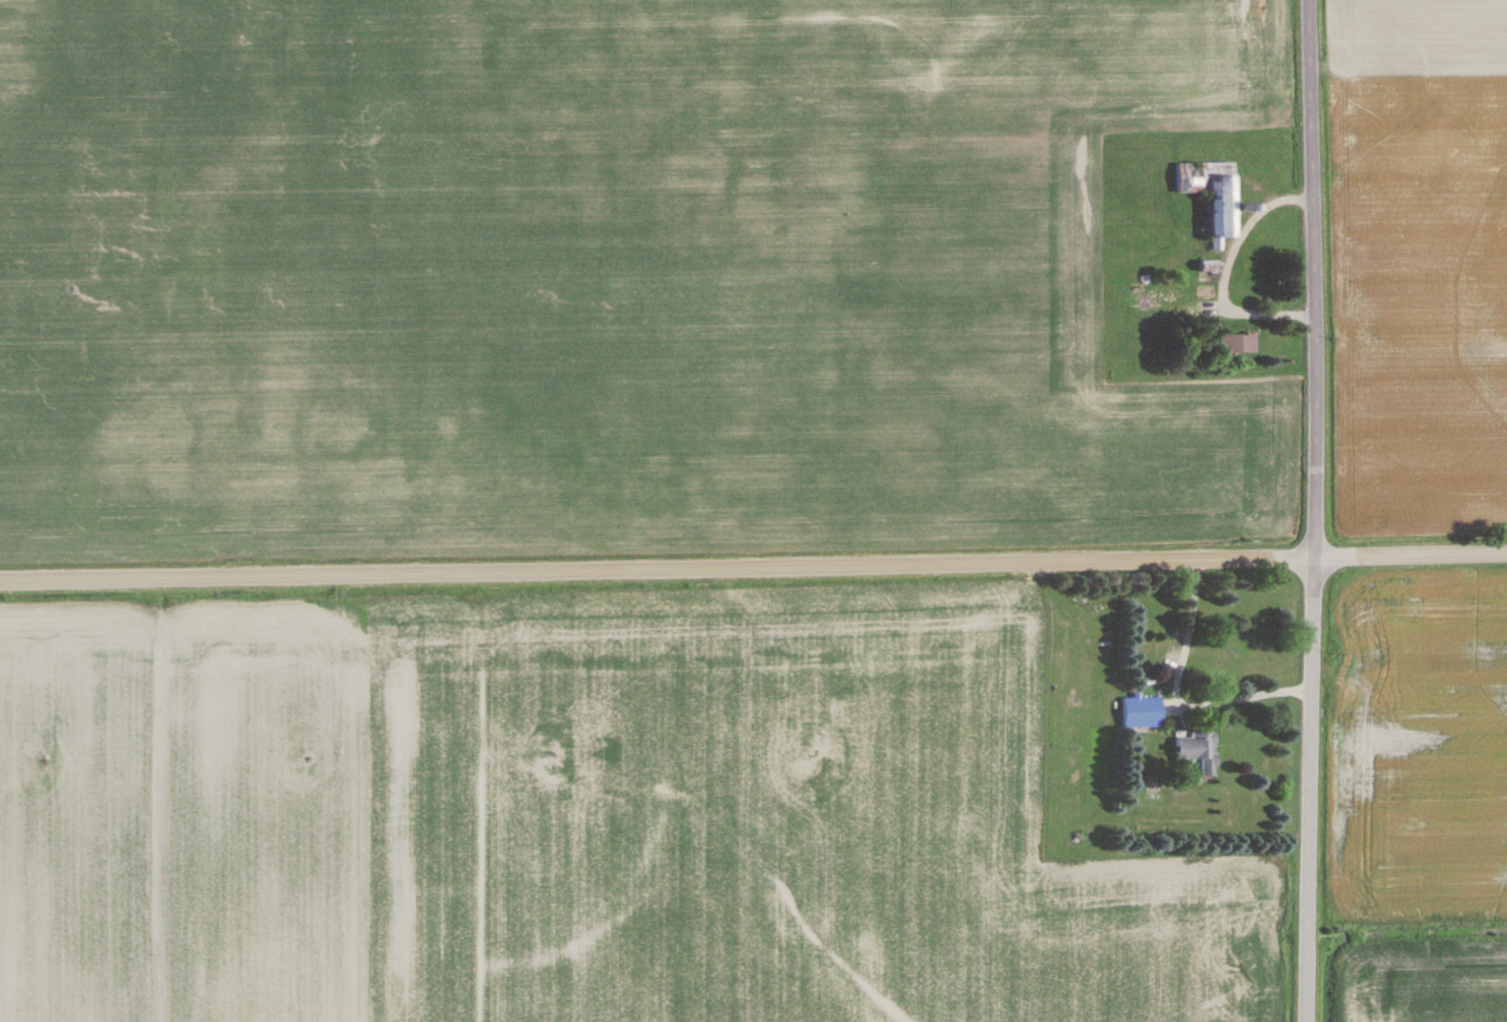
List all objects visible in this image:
building: (1213, 193)
road: (1223, 271)
building: (1198, 311)
building: (1235, 342)
road: (1314, 510)
road: (753, 564)
road: (1172, 696)
building: (1142, 713)
building: (1197, 753)

